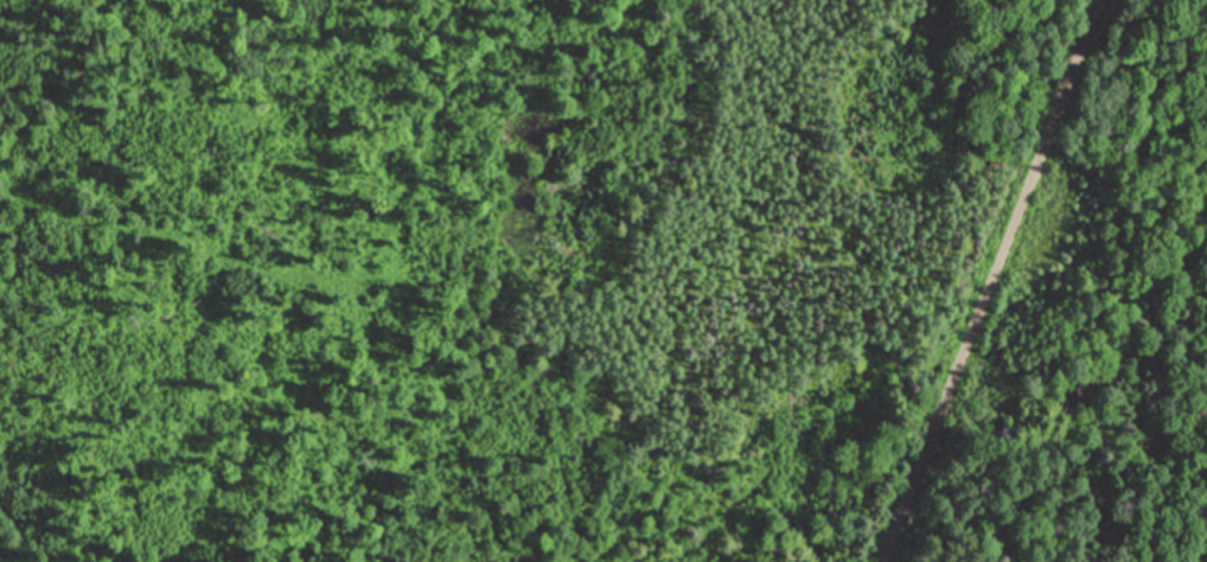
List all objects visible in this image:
road: (985, 281)

